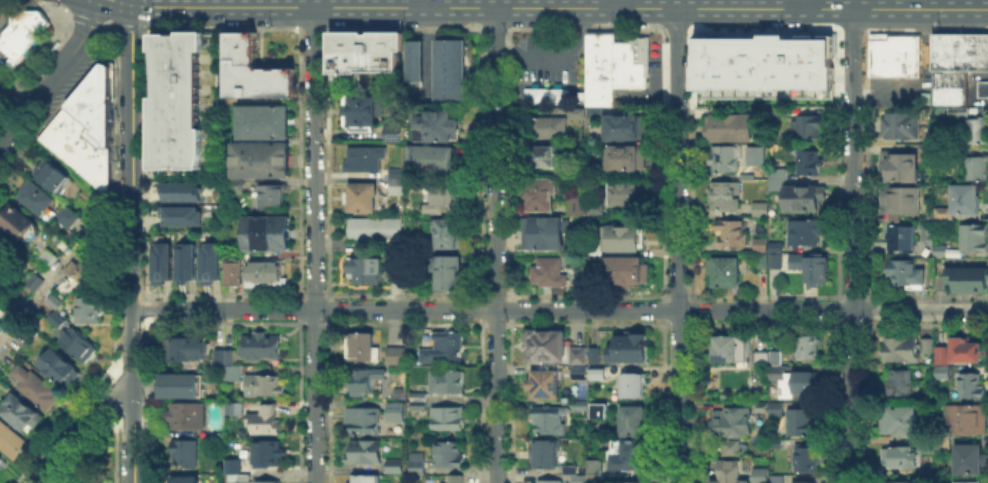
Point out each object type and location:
road: (124, 2)
road: (266, 3)
road: (427, 3)
road: (496, 3)
road: (543, 3)
road: (652, 4)
road: (802, 4)
road: (940, 4)
traffic signals: (150, 6)
road: (279, 6)
road: (512, 6)
road: (461, 7)
road: (670, 8)
road: (832, 9)
road: (597, 10)
road: (636, 10)
road: (693, 11)
road: (817, 11)
road: (407, 12)
road: (444, 12)
road: (662, 12)
road: (149, 14)
road: (595, 14)
road: (93, 22)
traffic signals: (88, 24)
road: (636, 25)
road: (105, 26)
road: (597, 26)
road: (407, 27)
road: (444, 27)
road: (816, 27)
road: (131, 28)
road: (151, 29)
building: (22, 30)
traffic signals: (132, 30)
road: (226, 30)
road: (405, 30)
road: (497, 30)
road: (587, 30)
road: (677, 30)
road: (314, 31)
road: (854, 31)
road: (926, 31)
road: (765, 32)
building: (171, 40)
building: (204, 40)
building: (414, 49)
road: (426, 49)
building: (978, 51)
building: (362, 53)
building: (450, 53)
road: (552, 54)
building: (894, 54)
parking lot: (544, 58)
building: (630, 62)
building: (762, 62)
building: (160, 64)
building: (598, 66)
building: (948, 66)
building: (253, 69)
building: (414, 70)
road: (53, 73)
building: (450, 84)
building: (982, 88)
building: (544, 94)
road: (13, 98)
building: (780, 111)
building: (576, 112)
building: (185, 113)
building: (363, 114)
building: (266, 122)
building: (733, 124)
building: (439, 126)
building: (811, 127)
building: (903, 127)
building: (83, 128)
building: (549, 128)
building: (622, 129)
building: (978, 131)
building: (397, 133)
building: (754, 154)
road: (314, 158)
building: (550, 158)
building: (626, 159)
building: (367, 160)
road: (690, 160)
building: (725, 160)
building: (434, 161)
road: (662, 162)
building: (260, 163)
building: (810, 163)
road: (301, 165)
road: (327, 165)
building: (902, 167)
building: (977, 168)
building: (53, 176)
building: (400, 183)
building: (791, 191)
building: (187, 192)
building: (541, 194)
building: (627, 194)
building: (726, 196)
building: (36, 198)
building: (273, 198)
building: (361, 198)
building: (444, 199)
building: (901, 201)
building: (577, 203)
building: (962, 204)
building: (758, 207)
building: (188, 216)
building: (69, 218)
building: (18, 221)
building: (377, 229)
building: (450, 233)
building: (807, 233)
building: (269, 234)
building: (544, 234)
building: (734, 234)
building: (625, 235)
building: (904, 239)
building: (975, 239)
road: (132, 244)
building: (761, 244)
road: (496, 245)
road: (678, 245)
road: (853, 245)
building: (6, 246)
building: (777, 246)
building: (942, 250)
building: (50, 258)
building: (762, 260)
building: (776, 260)
building: (164, 262)
building: (188, 262)
building: (213, 262)
road: (62, 268)
building: (399, 269)
building: (625, 269)
building: (818, 269)
building: (1, 271)
building: (364, 271)
building: (266, 273)
building: (449, 273)
building: (726, 273)
building: (232, 274)
building: (550, 274)
building: (907, 276)
building: (79, 277)
building: (966, 277)
building: (37, 282)
building: (56, 302)
building: (14, 305)
road: (301, 305)
road: (327, 305)
road: (662, 309)
road: (691, 309)
building: (89, 310)
road: (560, 310)
building: (58, 321)
building: (3, 326)
building: (808, 344)
building: (80, 346)
building: (362, 346)
building: (546, 346)
building: (927, 346)
building: (262, 347)
building: (446, 348)
building: (631, 348)
building: (185, 349)
building: (731, 349)
building: (900, 349)
building: (968, 351)
building: (580, 355)
building: (596, 355)
building: (943, 356)
building: (225, 357)
building: (397, 357)
building: (772, 357)
building: (61, 369)
building: (597, 371)
building: (580, 373)
building: (943, 374)
building: (233, 376)
building: (793, 380)
building: (363, 383)
building: (448, 383)
building: (895, 384)
building: (184, 385)
building: (546, 385)
building: (263, 386)
building: (635, 387)
building: (973, 387)
building: (37, 388)
road: (315, 396)
road: (662, 400)
road: (692, 400)
building: (420, 402)
building: (774, 407)
building: (399, 410)
building: (601, 412)
building: (20, 413)
building: (188, 417)
building: (969, 419)
building: (800, 420)
building: (264, 421)
building: (448, 421)
building: (366, 422)
building: (550, 422)
building: (902, 422)
building: (733, 427)
road: (80, 430)
building: (10, 440)
building: (632, 440)
building: (774, 442)
building: (366, 453)
building: (547, 454)
building: (186, 455)
building: (268, 456)
building: (450, 456)
building: (805, 456)
building: (909, 457)
building: (1, 460)
building: (971, 461)
building: (419, 464)
building: (237, 467)
building: (395, 467)
building: (598, 467)
building: (572, 471)
building: (732, 472)
building: (763, 476)
building: (365, 479)
building: (780, 479)
building: (457, 480)
building: (580, 480)
building: (607, 480)
building: (186, 481)
building: (894, 481)
building: (965, 481)
building: (86, 482)
building: (268, 482)
building: (550, 482)
building: (630, 482)
building: (802, 482)

